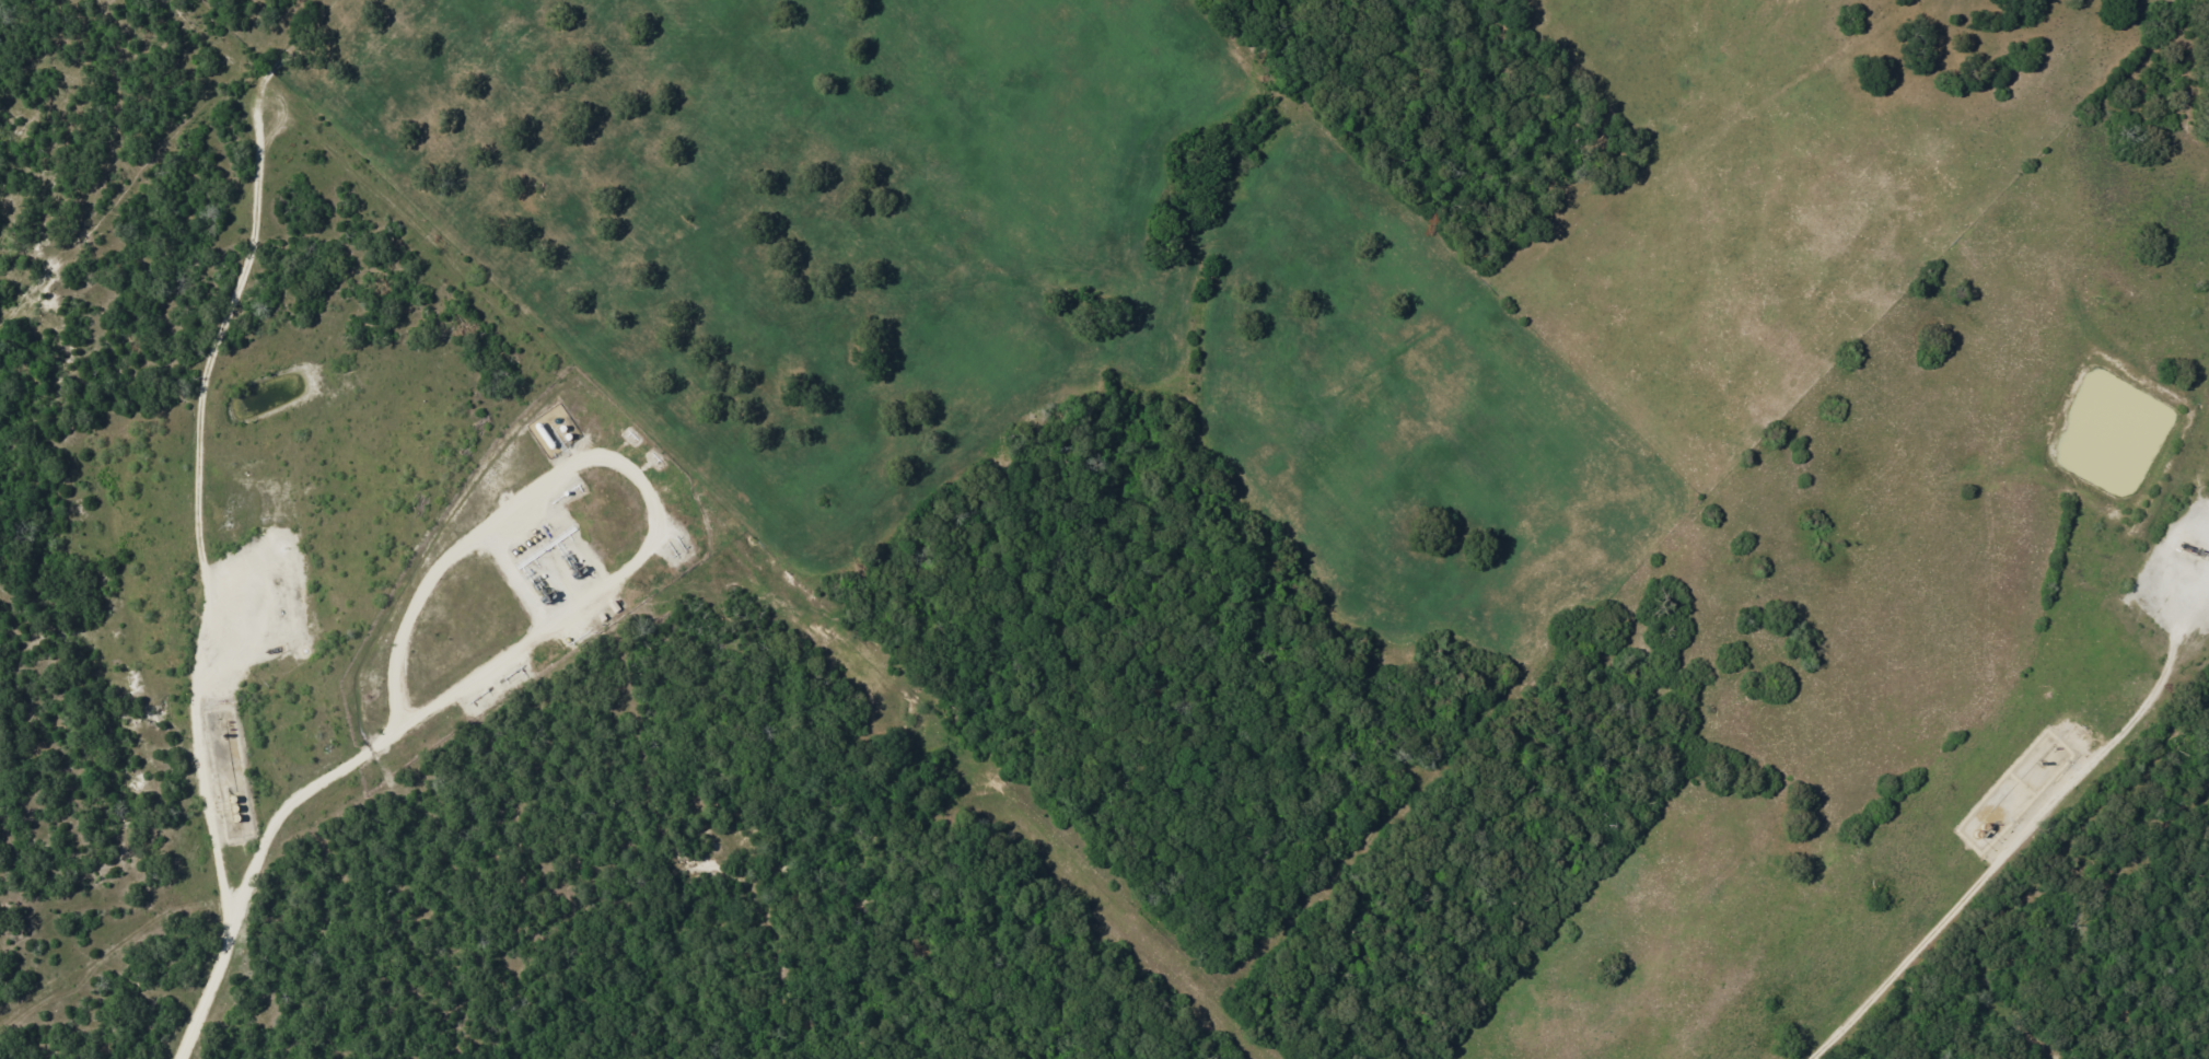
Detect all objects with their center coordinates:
petroleum well: (2193, 551)

